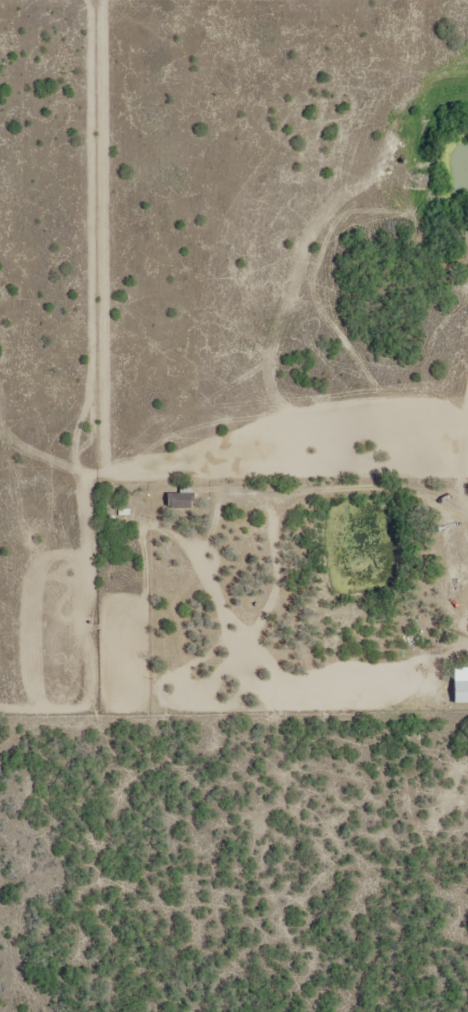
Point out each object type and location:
building: (182, 500)
building: (462, 691)

